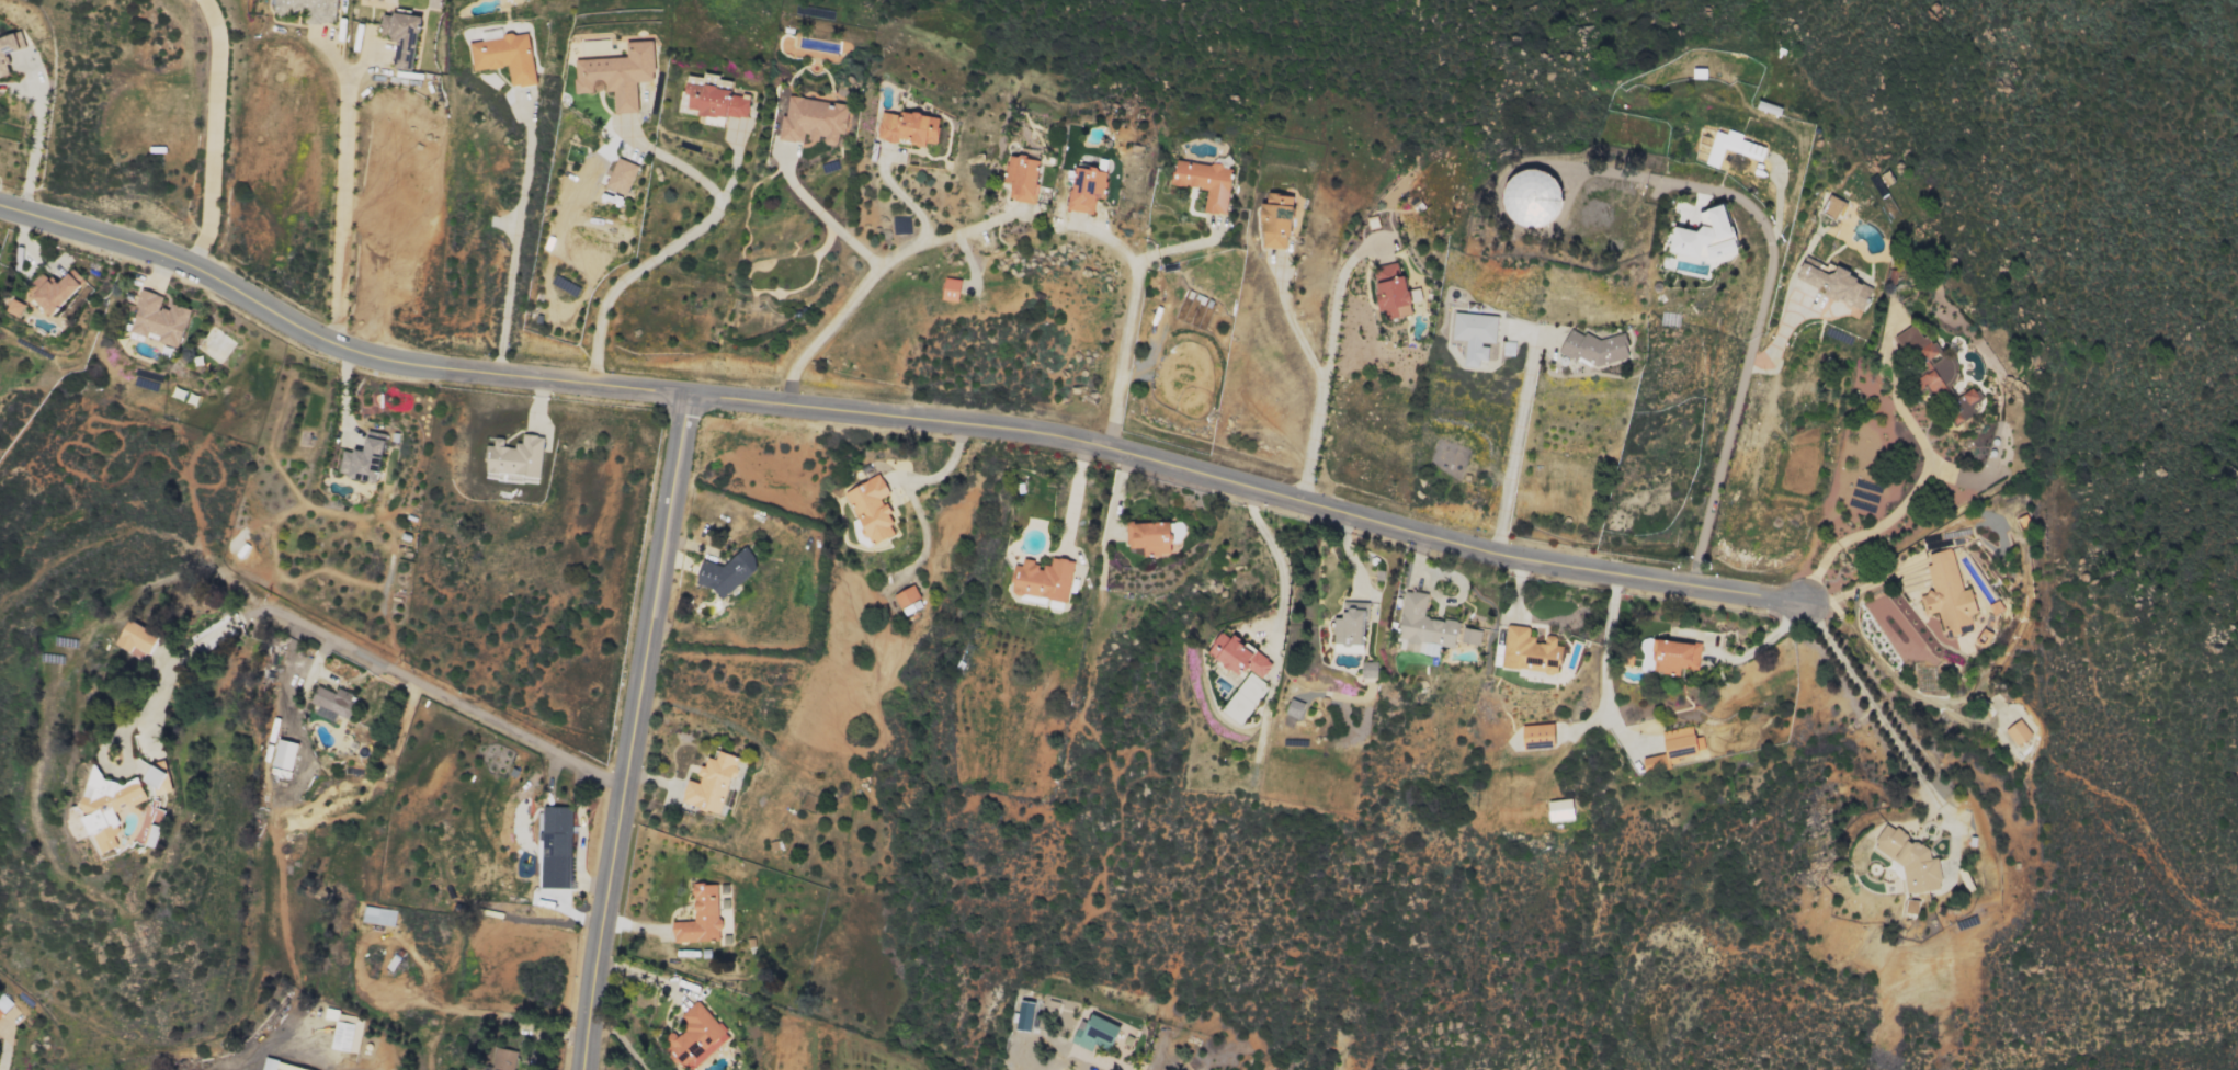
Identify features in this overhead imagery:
building: (439, 3)
building: (310, 9)
building: (407, 36)
building: (10, 53)
building: (505, 56)
road: (338, 61)
building: (611, 73)
building: (704, 95)
building: (804, 119)
building: (900, 127)
road: (208, 132)
road: (34, 136)
building: (1727, 147)
road: (732, 162)
building: (617, 175)
building: (1020, 178)
building: (1203, 183)
building: (1083, 189)
road: (339, 191)
road: (1724, 192)
road: (901, 196)
road: (825, 218)
building: (1273, 221)
building: (1696, 235)
road: (516, 239)
road: (674, 243)
road: (1178, 247)
road: (879, 266)
building: (1833, 285)
building: (948, 289)
building: (59, 291)
building: (1387, 291)
building: (1412, 296)
road: (1340, 297)
building: (20, 307)
road: (1128, 316)
building: (163, 319)
road: (1299, 320)
building: (1473, 335)
road: (1777, 339)
building: (1915, 344)
building: (1944, 391)
road: (895, 413)
road: (1315, 434)
road: (1515, 436)
building: (513, 457)
road: (1720, 458)
building: (360, 460)
road: (1075, 492)
building: (868, 510)
road: (1885, 521)
building: (1152, 537)
road: (1275, 556)
building: (725, 574)
building: (1041, 580)
building: (1945, 594)
building: (906, 600)
building: (1422, 628)
building: (1348, 629)
building: (1469, 637)
building: (145, 638)
road: (1762, 644)
building: (1529, 651)
road: (173, 656)
building: (1236, 656)
building: (1671, 657)
road: (1604, 667)
road: (442, 694)
building: (1243, 699)
building: (331, 701)
building: (1293, 708)
road: (1888, 729)
road: (632, 731)
building: (2017, 732)
building: (1535, 737)
building: (1674, 747)
building: (280, 755)
building: (172, 777)
building: (708, 784)
building: (126, 807)
building: (553, 847)
building: (1909, 861)
building: (1909, 908)
building: (377, 917)
building: (698, 917)
building: (1, 1013)
building: (341, 1033)
building: (1092, 1034)
building: (694, 1037)
road: (7, 1047)
building: (503, 1060)
building: (276, 1067)
road: (1148, 1068)

